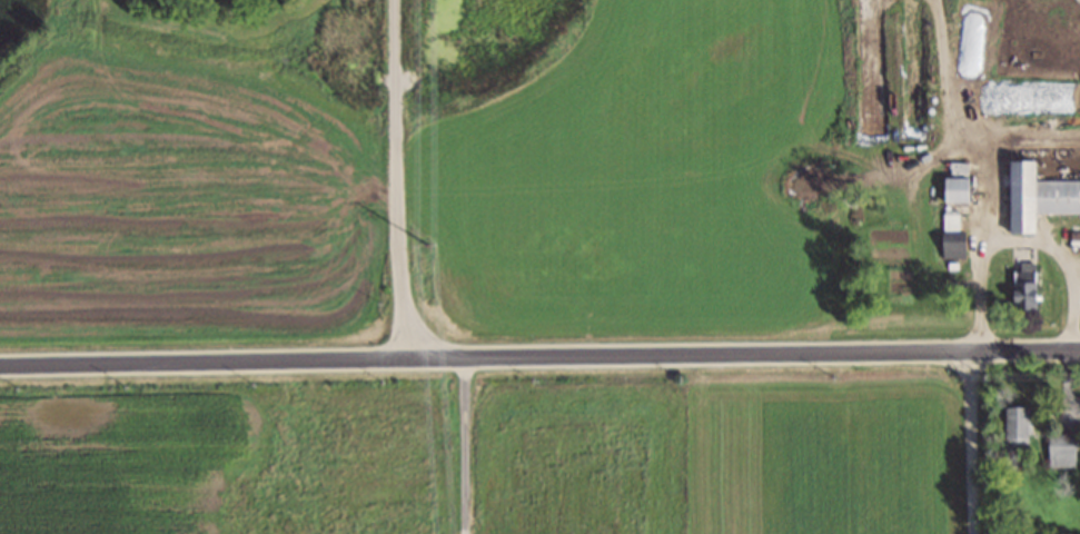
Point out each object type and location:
road: (940, 82)
road: (987, 146)
road: (931, 158)
road: (396, 178)
crop: (630, 189)
building: (954, 191)
crop: (186, 194)
building: (1038, 195)
building: (1076, 240)
road: (1019, 243)
power tower: (429, 248)
building: (952, 248)
building: (1023, 288)
road: (539, 354)
building: (1015, 432)
road: (968, 441)
road: (465, 444)
building: (1061, 453)

